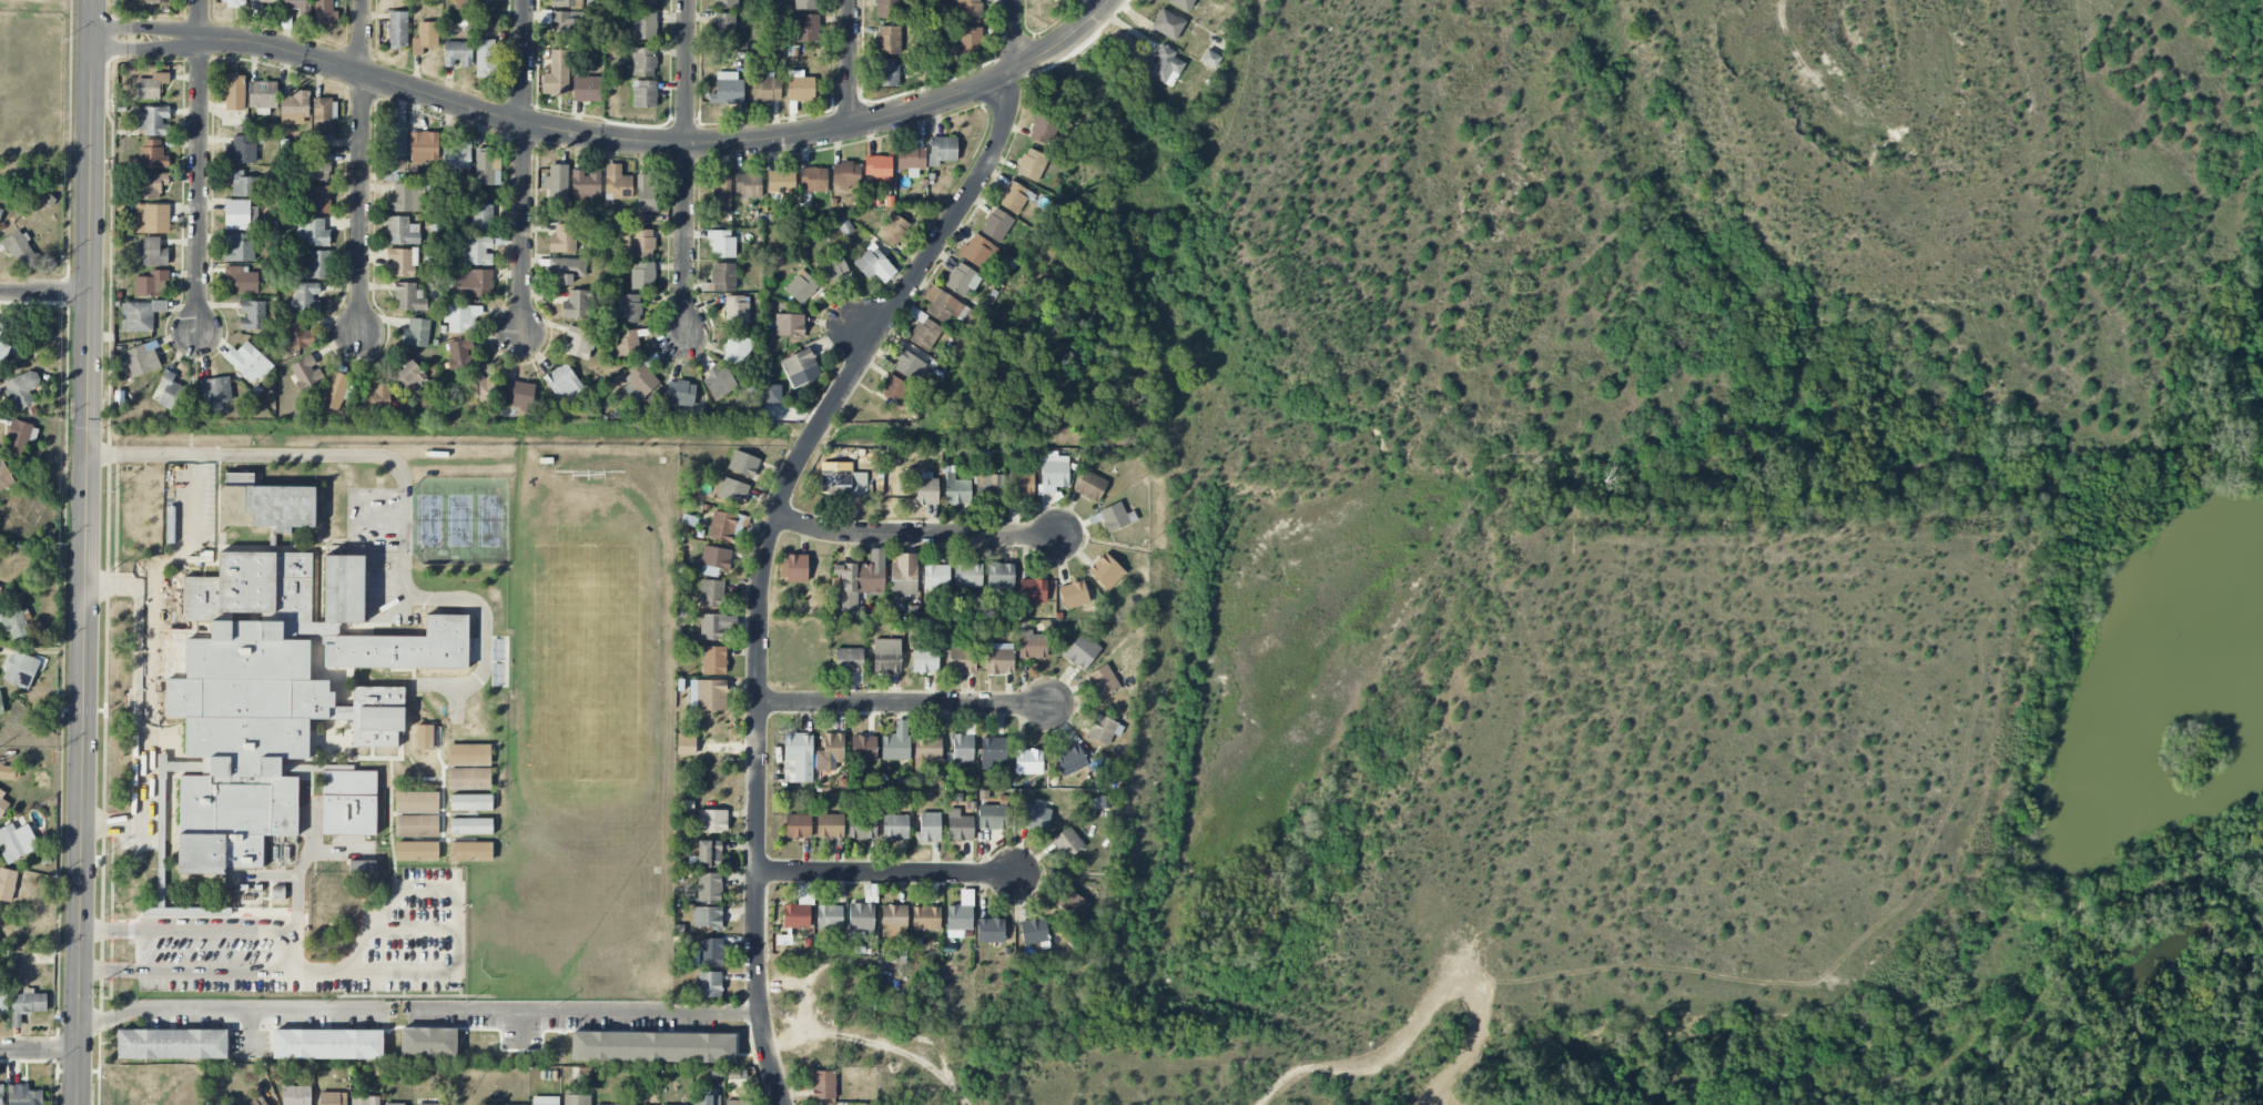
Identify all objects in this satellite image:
building: (158, 1)
building: (1056, 1)
building: (232, 2)
building: (258, 3)
building: (562, 3)
building: (645, 3)
building: (725, 3)
building: (469, 4)
building: (805, 4)
building: (1181, 4)
building: (886, 9)
building: (965, 11)
building: (325, 12)
road: (91, 19)
building: (570, 24)
building: (1167, 24)
building: (643, 26)
building: (724, 27)
building: (806, 28)
building: (397, 30)
road: (1013, 33)
road: (362, 36)
building: (425, 37)
road: (1068, 38)
road: (227, 39)
building: (889, 40)
building: (970, 40)
building: (457, 54)
building: (489, 58)
building: (1210, 60)
building: (643, 61)
road: (849, 63)
building: (1164, 65)
building: (883, 70)
road: (1014, 70)
road: (364, 73)
building: (557, 74)
building: (150, 85)
building: (800, 87)
park: (31, 88)
building: (586, 88)
building: (727, 89)
building: (765, 90)
building: (234, 92)
building: (645, 93)
building: (262, 94)
building: (295, 108)
building: (324, 115)
building: (151, 120)
building: (1043, 129)
building: (396, 139)
road: (687, 142)
building: (424, 146)
building: (241, 150)
building: (942, 150)
building: (152, 154)
building: (457, 156)
building: (911, 159)
building: (1032, 164)
building: (390, 165)
building: (319, 166)
road: (200, 168)
building: (487, 168)
road: (686, 168)
road: (522, 169)
building: (879, 171)
building: (846, 175)
building: (813, 179)
building: (781, 181)
building: (557, 182)
building: (617, 183)
building: (243, 184)
building: (586, 184)
building: (748, 184)
building: (152, 185)
building: (646, 193)
building: (721, 194)
building: (405, 197)
building: (1015, 197)
building: (319, 199)
road: (362, 206)
building: (0, 212)
building: (237, 214)
building: (479, 217)
building: (151, 219)
building: (645, 219)
building: (997, 225)
building: (893, 230)
building: (402, 231)
building: (312, 232)
building: (564, 239)
building: (641, 243)
building: (722, 244)
building: (241, 247)
building: (20, 250)
building: (478, 251)
building: (976, 251)
building: (152, 252)
road: (931, 253)
building: (400, 263)
building: (317, 264)
building: (874, 264)
building: (832, 268)
building: (566, 270)
building: (643, 275)
building: (721, 277)
building: (242, 278)
building: (961, 280)
building: (474, 283)
building: (151, 284)
building: (801, 287)
road: (44, 293)
building: (408, 296)
building: (305, 297)
building: (577, 304)
building: (943, 305)
building: (629, 308)
building: (737, 310)
building: (140, 315)
building: (252, 315)
building: (463, 317)
building: (789, 325)
building: (416, 333)
building: (924, 333)
building: (298, 335)
building: (578, 343)
building: (627, 343)
building: (737, 349)
building: (3, 352)
building: (459, 353)
building: (142, 358)
building: (247, 362)
building: (909, 365)
building: (800, 367)
building: (306, 373)
building: (408, 373)
building: (564, 383)
building: (640, 383)
building: (719, 383)
building: (478, 387)
building: (894, 388)
building: (22, 389)
building: (215, 391)
building: (335, 391)
building: (170, 392)
building: (680, 393)
building: (772, 394)
building: (519, 395)
building: (376, 398)
building: (21, 436)
road: (808, 442)
road: (286, 450)
building: (743, 464)
building: (1053, 473)
building: (4, 475)
building: (843, 483)
building: (1021, 484)
building: (1090, 485)
building: (926, 488)
building: (956, 489)
building: (732, 490)
building: (990, 490)
road: (196, 496)
building: (264, 505)
building: (1114, 517)
building: (722, 526)
road: (919, 534)
building: (714, 560)
building: (796, 568)
road: (85, 571)
building: (1106, 571)
building: (904, 575)
building: (967, 575)
building: (1001, 575)
building: (936, 577)
building: (859, 580)
building: (344, 589)
building: (1032, 590)
building: (711, 594)
building: (1074, 595)
building: (13, 622)
building: (712, 626)
building: (1032, 645)
building: (405, 647)
building: (1082, 651)
building: (886, 656)
building: (999, 658)
building: (962, 659)
building: (713, 660)
building: (925, 660)
building: (849, 662)
building: (20, 669)
building: (1103, 681)
building: (708, 695)
road: (146, 698)
road: (905, 703)
building: (1, 706)
building: (254, 708)
building: (1104, 729)
building: (896, 742)
building: (686, 747)
building: (863, 747)
building: (927, 749)
building: (961, 749)
building: (992, 751)
building: (830, 752)
building: (798, 758)
building: (1069, 760)
building: (1027, 761)
building: (10, 772)
road: (758, 782)
building: (348, 801)
building: (2, 803)
building: (992, 817)
building: (1035, 818)
building: (712, 820)
building: (416, 825)
building: (830, 825)
building: (960, 825)
building: (798, 827)
building: (862, 827)
building: (895, 827)
building: (928, 827)
building: (17, 841)
building: (1067, 842)
building: (708, 853)
building: (362, 866)
road: (889, 872)
building: (7, 883)
building: (709, 886)
building: (277, 893)
building: (1072, 903)
building: (799, 908)
building: (961, 915)
building: (829, 916)
building: (707, 918)
building: (861, 918)
building: (925, 918)
building: (894, 920)
road: (205, 929)
building: (990, 931)
building: (1034, 931)
building: (710, 952)
road: (354, 973)
building: (709, 984)
building: (3, 1001)
building: (26, 1004)
road: (588, 1006)
road: (226, 1008)
building: (428, 1042)
building: (172, 1044)
building: (327, 1044)
building: (652, 1046)
road: (39, 1050)
building: (823, 1085)
building: (1, 1095)
building: (296, 1095)
building: (332, 1098)
building: (577, 1099)
building: (706, 1099)
building: (256, 1101)
building: (365, 1101)
building: (545, 1101)
building: (735, 1102)
building: (399, 1104)
building: (429, 1104)
building: (516, 1104)
building: (602, 1104)

